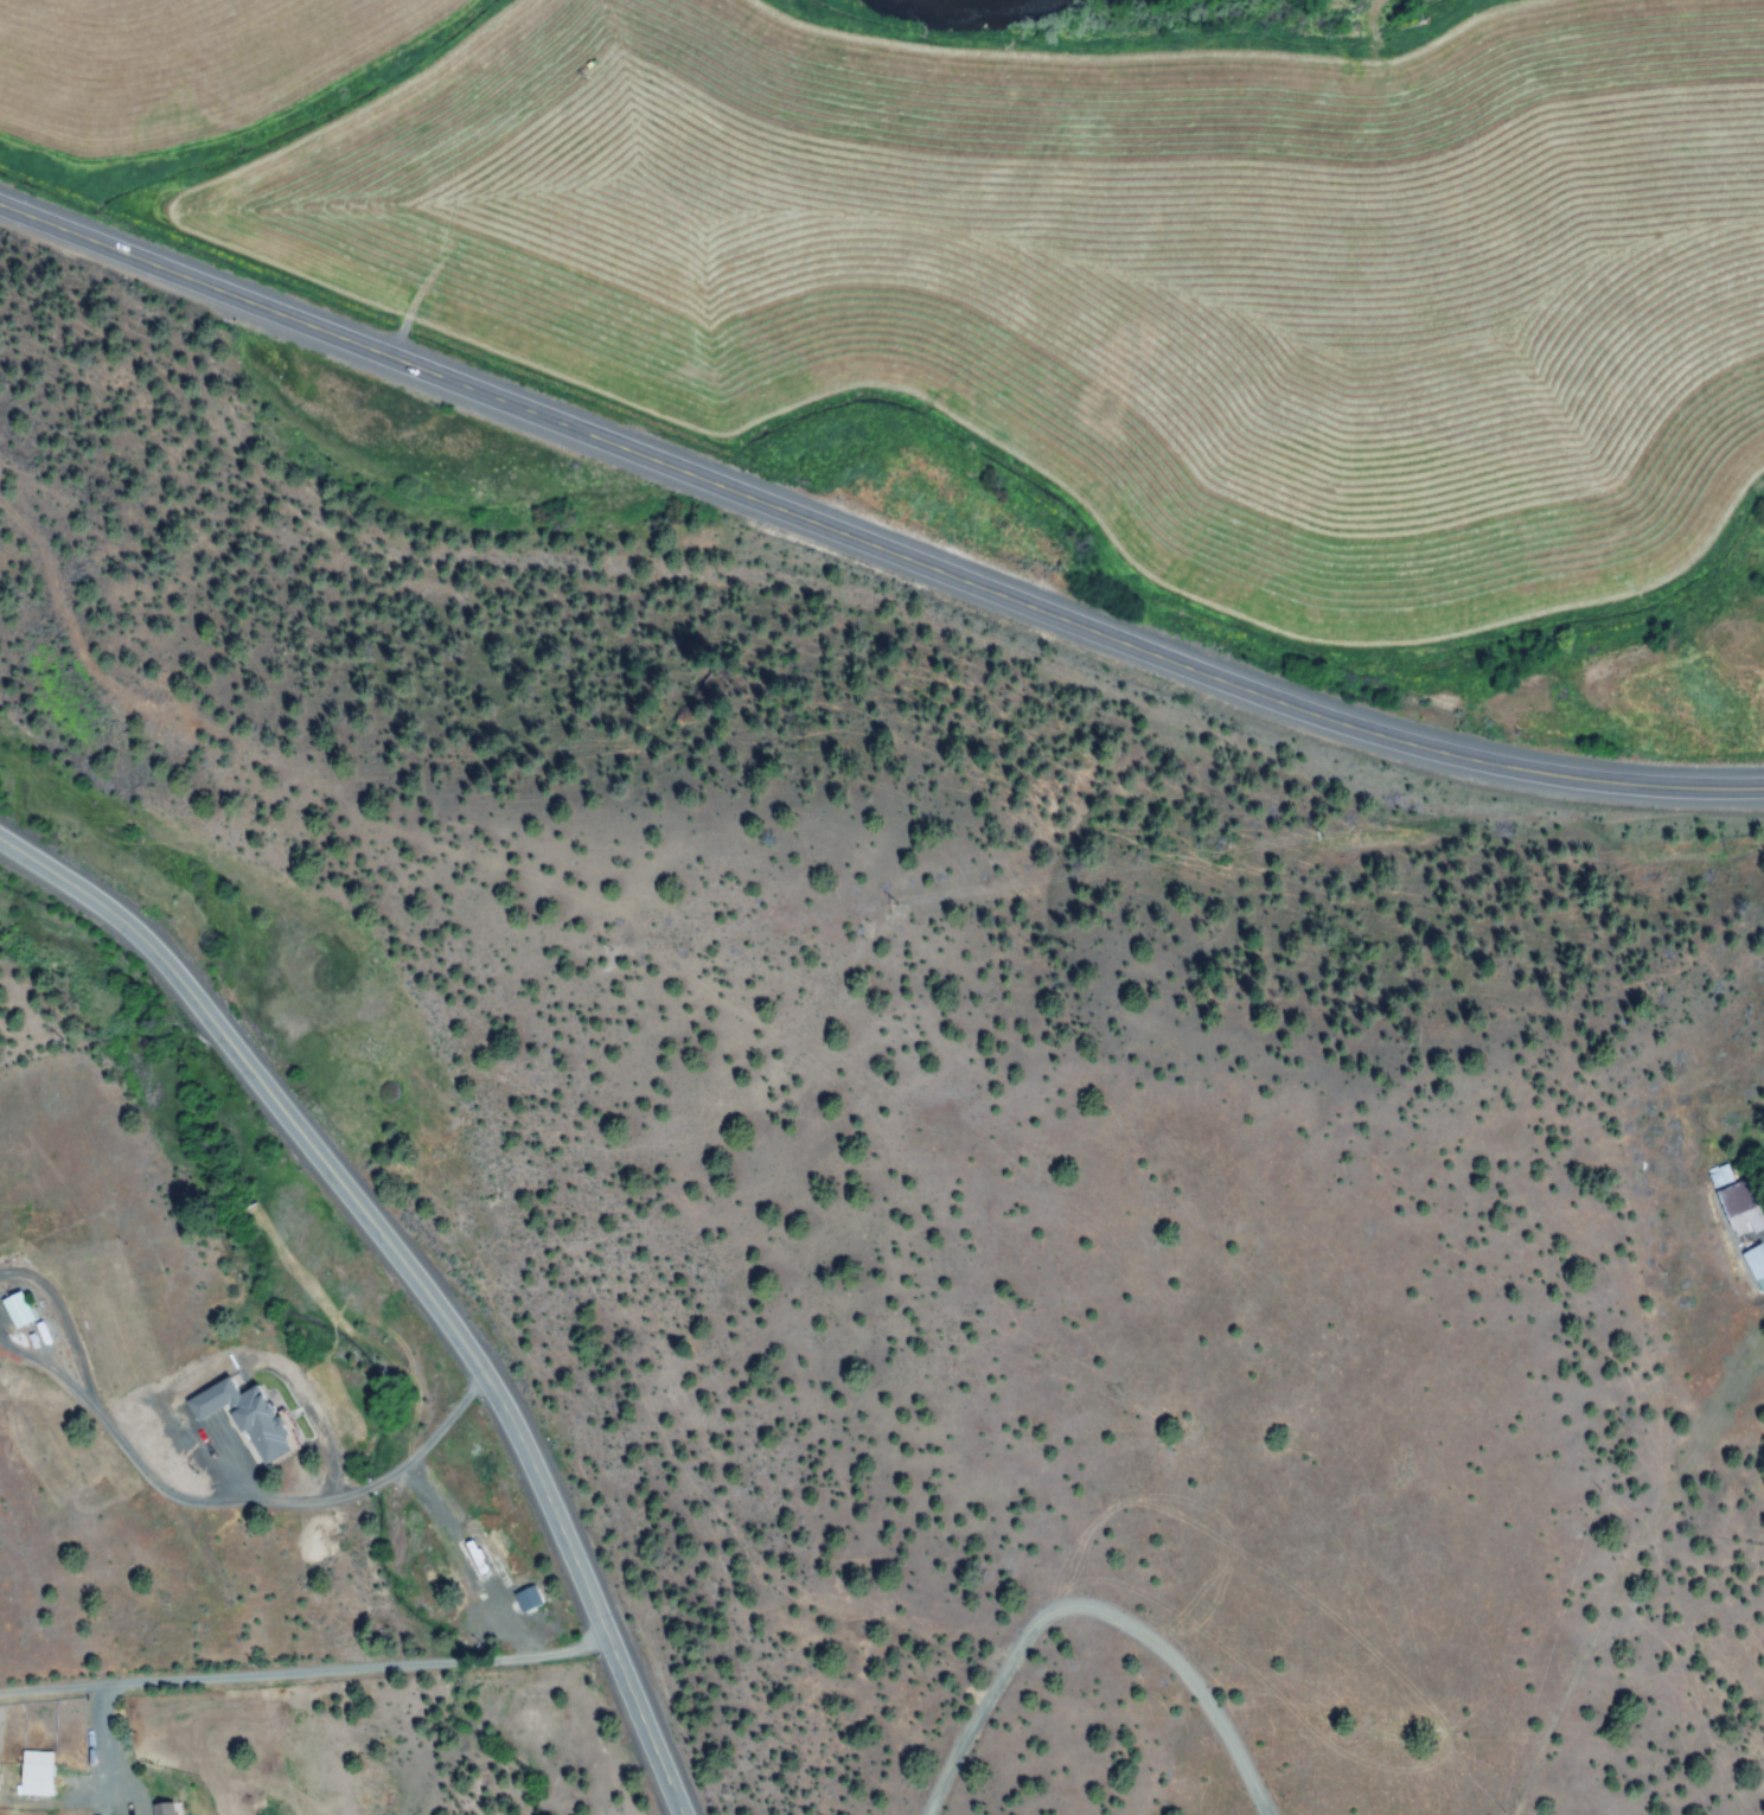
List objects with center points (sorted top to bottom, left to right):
river: (969, 1)
road: (870, 541)
road: (410, 1277)
building: (203, 1406)
road: (234, 1500)
building: (528, 1598)
road: (306, 1675)
building: (38, 1772)
building: (170, 1808)

